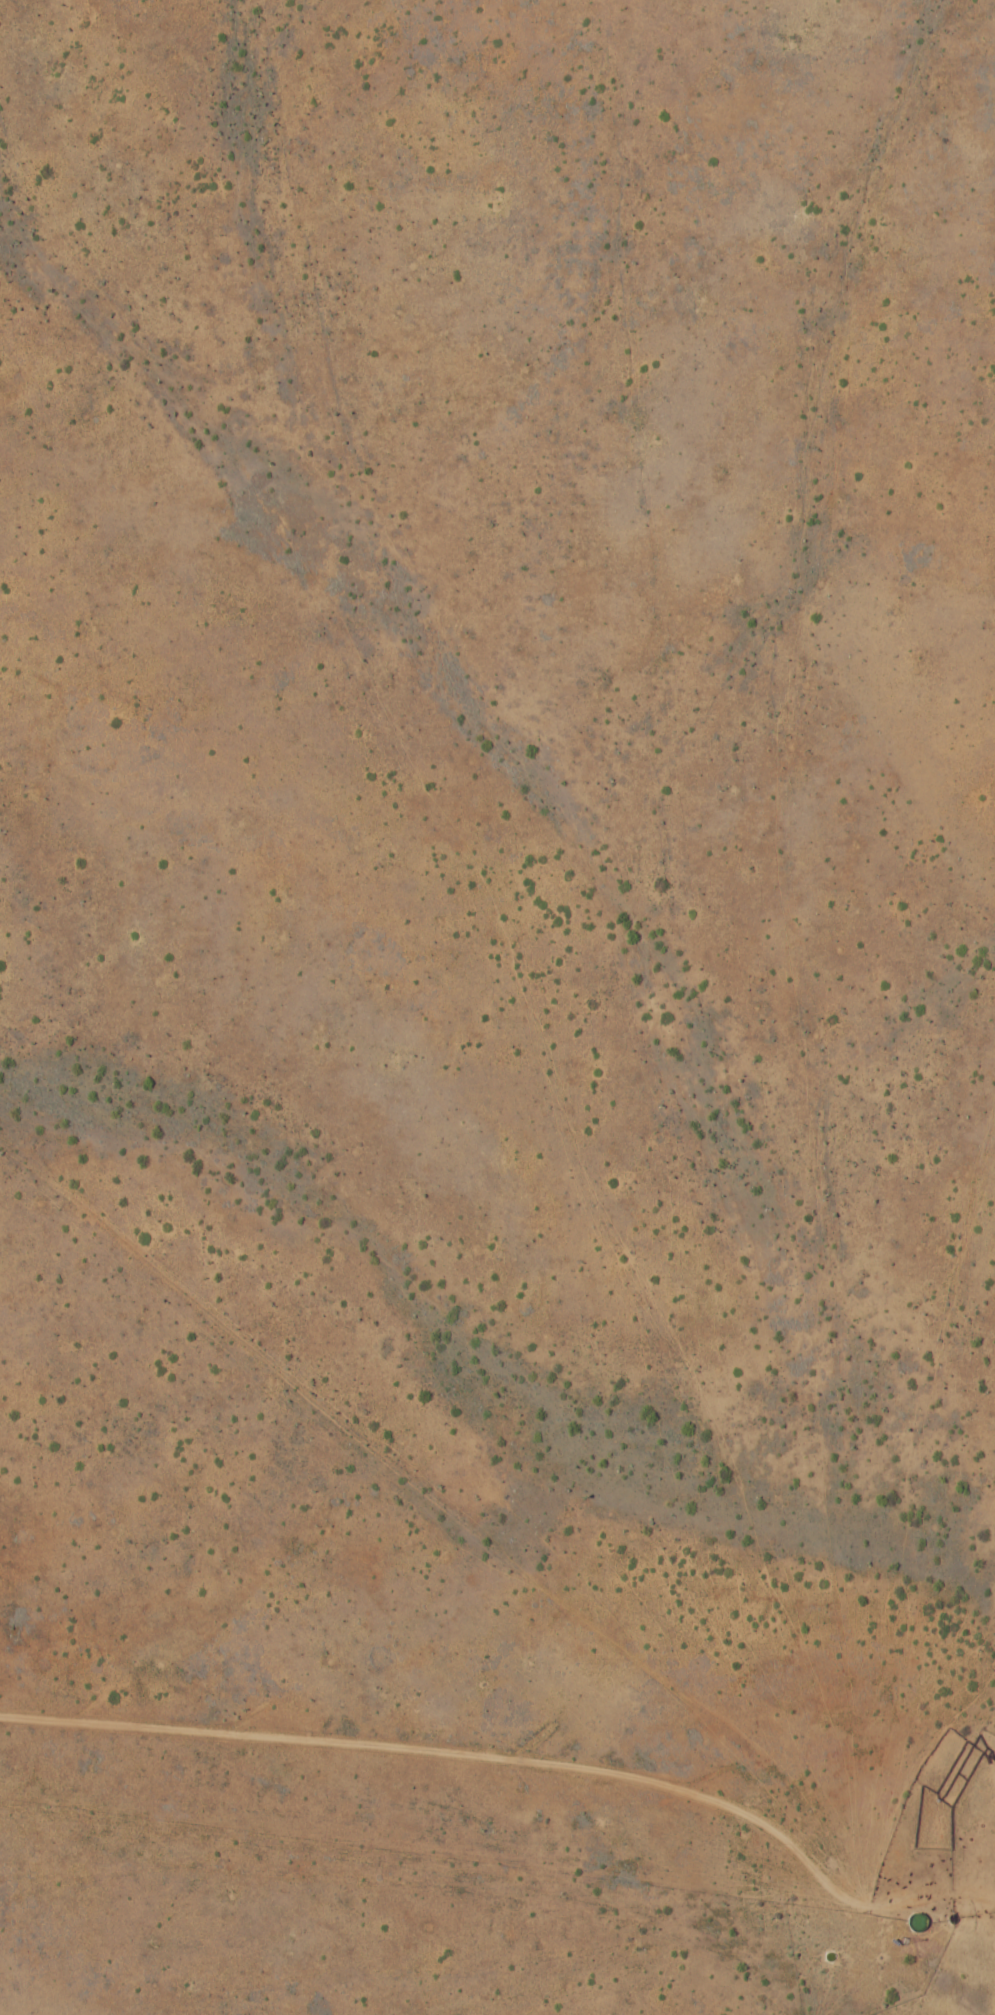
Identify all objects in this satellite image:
road: (986, 1907)
building: (917, 1921)
storage tank: (917, 1921)

